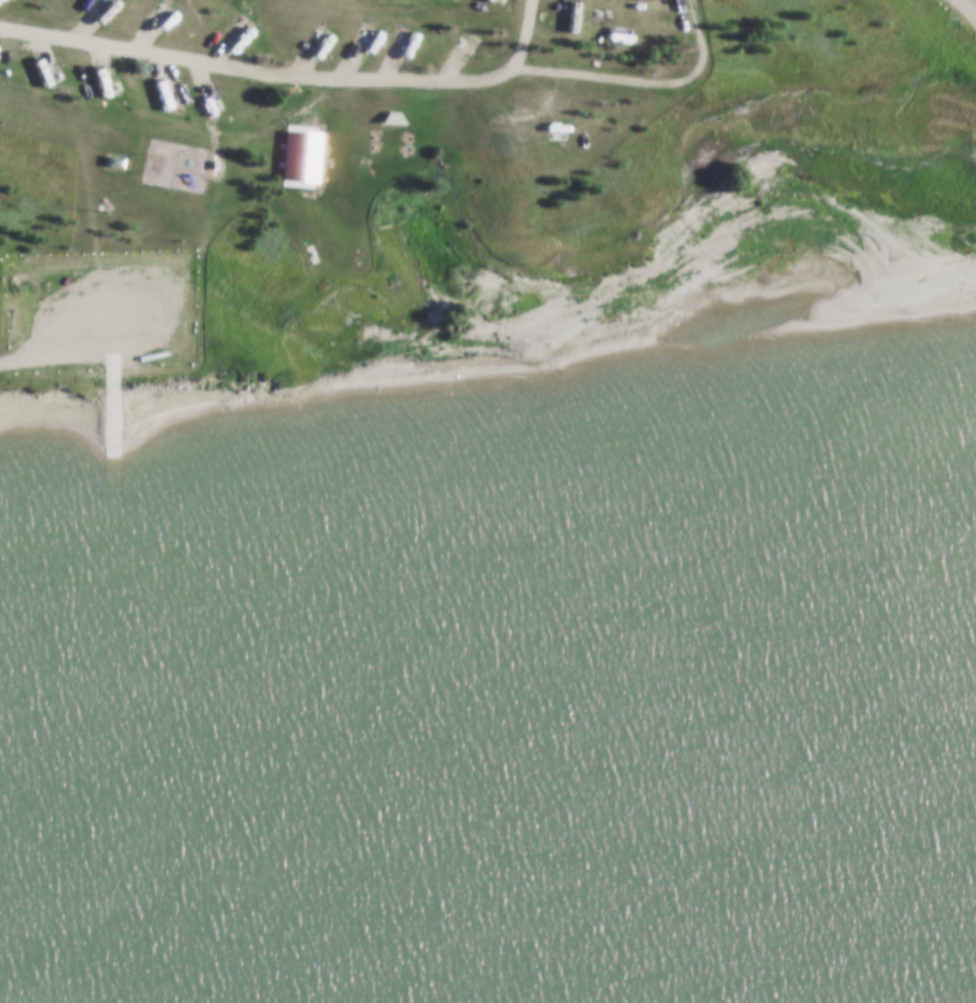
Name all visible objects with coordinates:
building: (611, 7)
street lamp: (412, 15)
building: (242, 33)
building: (371, 45)
building: (470, 47)
building: (40, 70)
building: (107, 71)
road: (294, 82)
road: (646, 87)
building: (160, 96)
building: (202, 104)
building: (535, 126)
building: (111, 164)
building: (116, 170)
parking lot: (99, 313)
road: (56, 362)
road: (111, 418)

